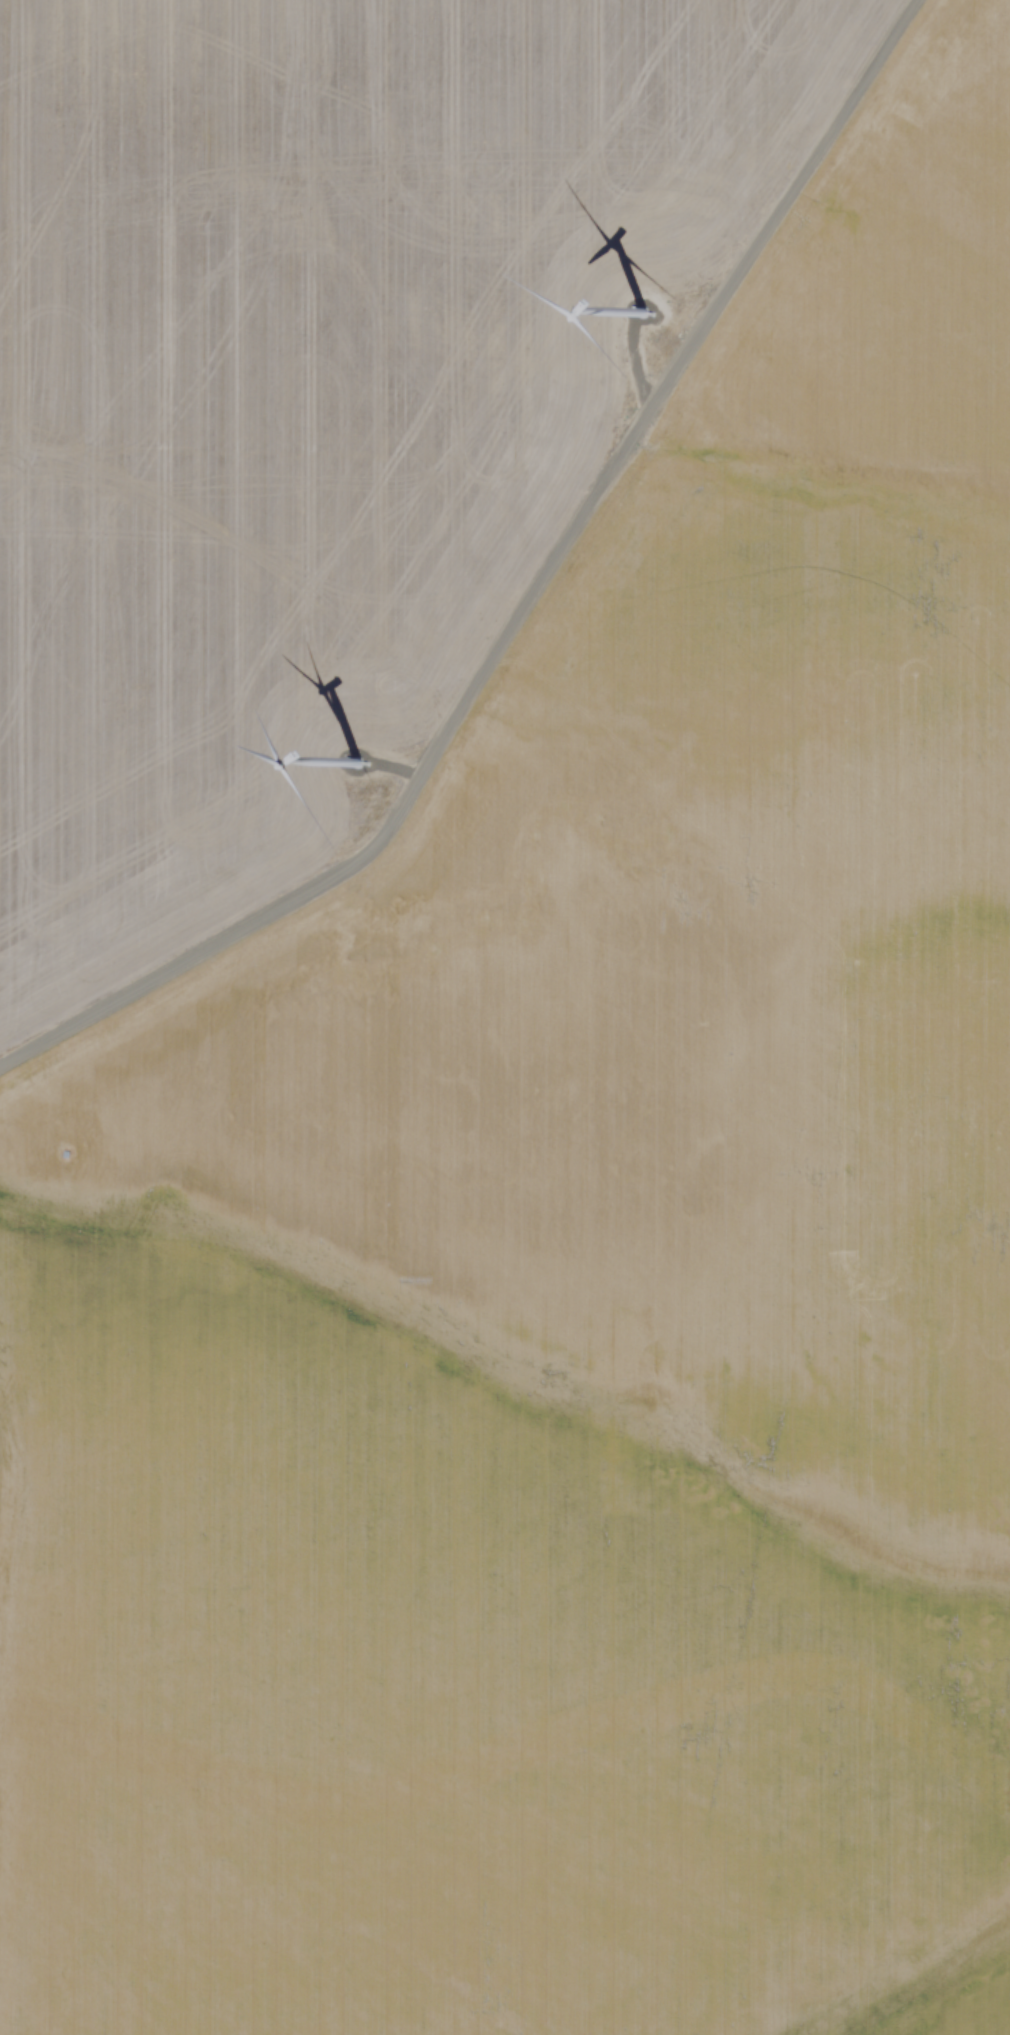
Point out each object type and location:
wind turbine: (624, 314)
road: (520, 595)
wind turbine: (350, 771)

